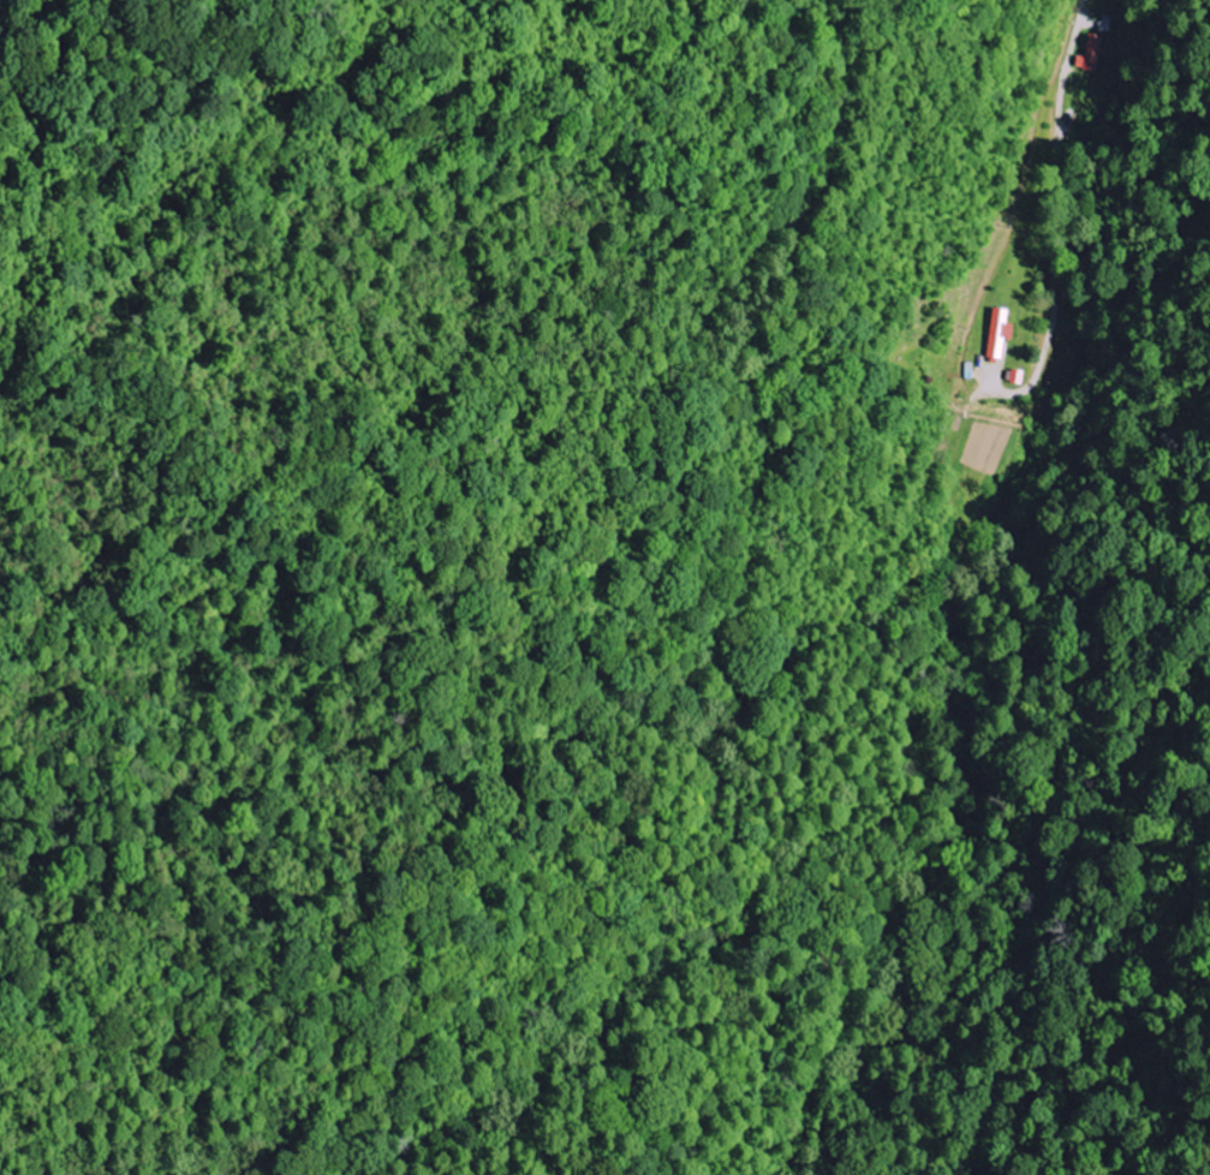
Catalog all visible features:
building: (1092, 54)
building: (1000, 333)
building: (1018, 377)

